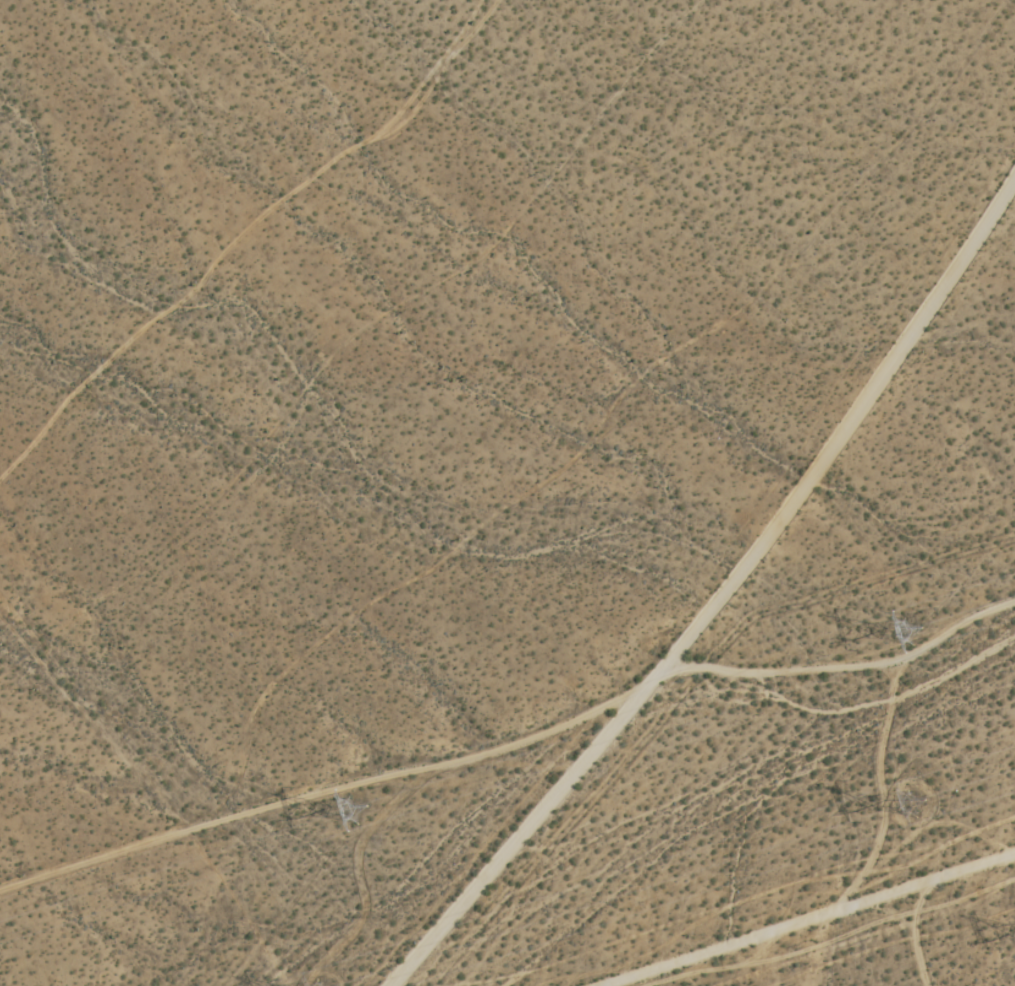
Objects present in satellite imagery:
road: (712, 584)
power tower: (913, 635)
power tower: (919, 799)
power tower: (370, 802)
road: (781, 912)

